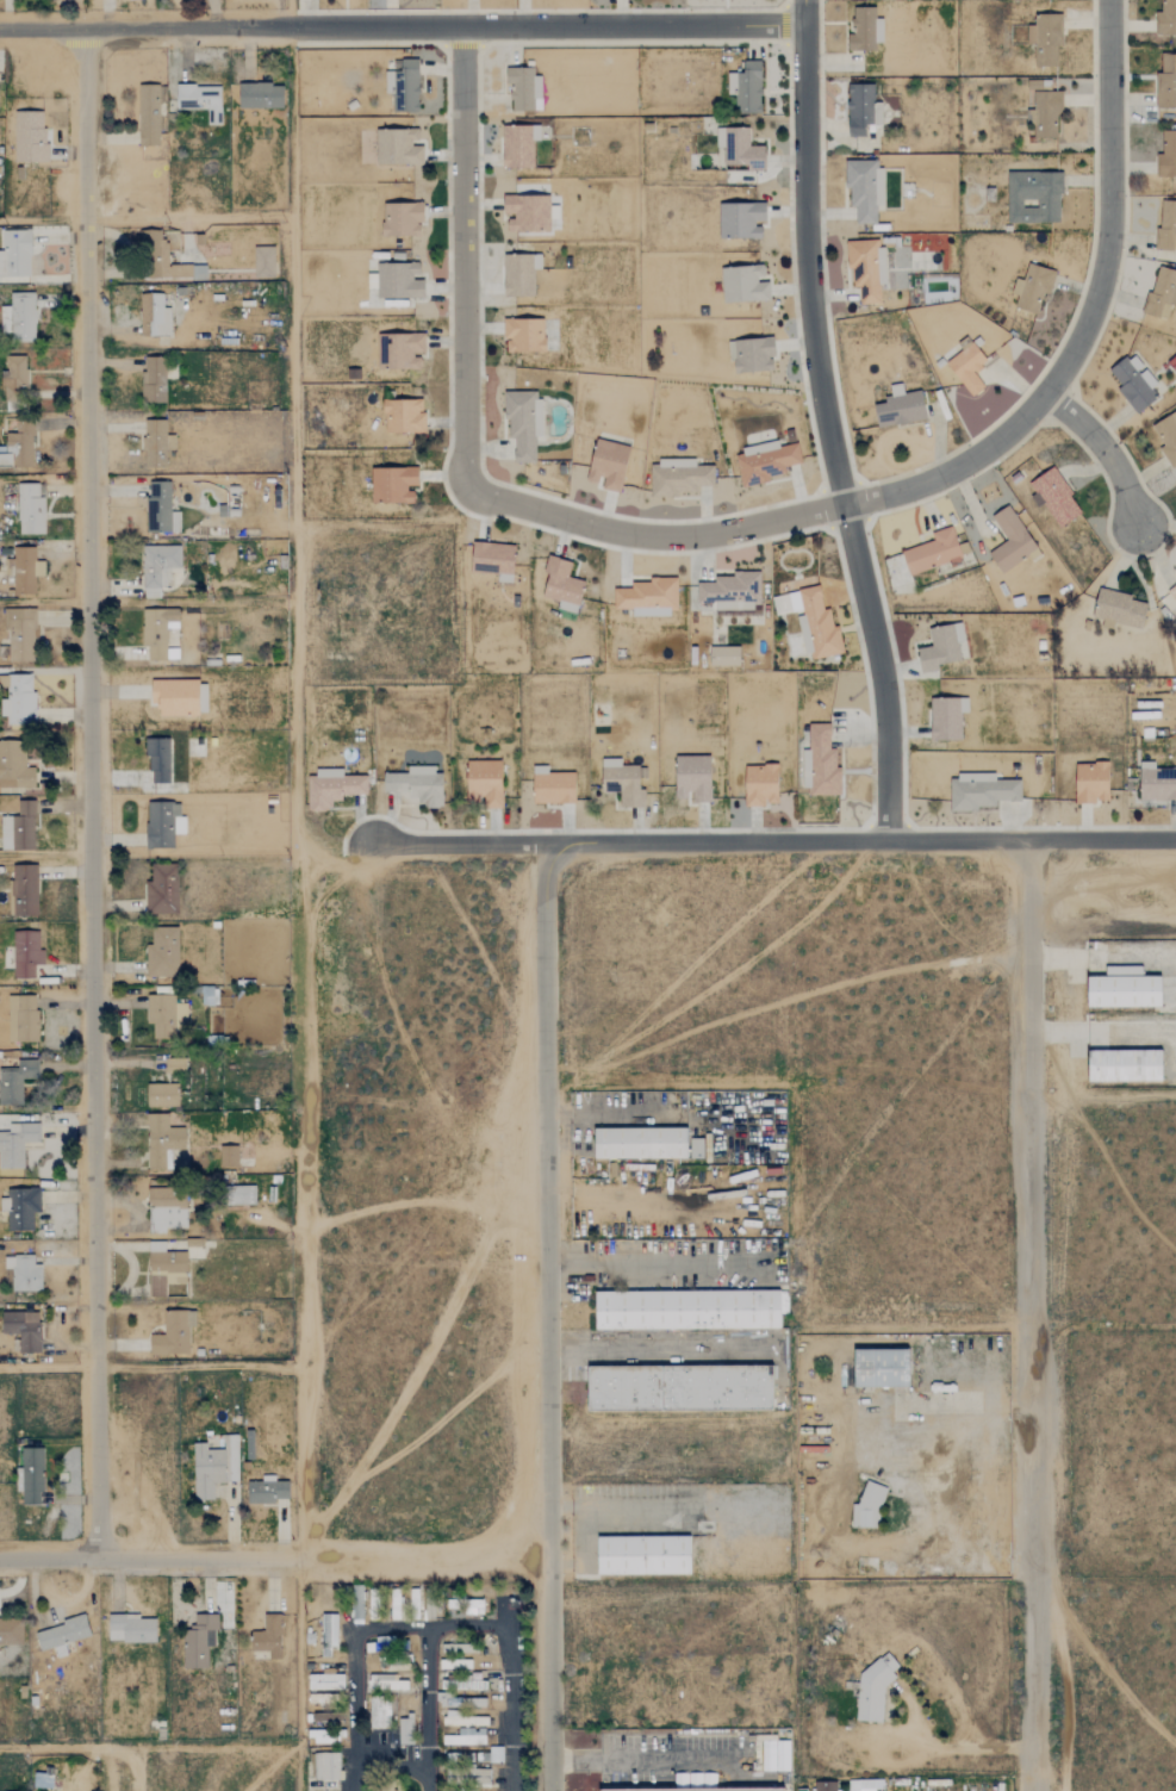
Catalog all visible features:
road: (803, 12)
building: (1166, 18)
road: (400, 27)
building: (865, 30)
building: (1045, 39)
building: (1166, 82)
building: (406, 85)
building: (746, 88)
building: (523, 89)
building: (260, 95)
building: (200, 100)
building: (861, 110)
building: (1044, 114)
building: (148, 116)
building: (29, 137)
building: (518, 145)
building: (399, 148)
building: (740, 150)
building: (1168, 154)
building: (864, 188)
building: (1033, 197)
road: (1108, 204)
building: (402, 219)
building: (741, 220)
building: (1166, 226)
road: (462, 240)
building: (15, 254)
building: (164, 260)
building: (263, 262)
building: (866, 268)
building: (519, 274)
building: (398, 281)
building: (743, 285)
building: (1033, 287)
building: (1162, 293)
building: (154, 316)
building: (19, 317)
building: (523, 336)
building: (404, 352)
building: (751, 355)
building: (967, 368)
building: (153, 380)
building: (14, 381)
building: (1134, 384)
building: (900, 408)
building: (403, 416)
building: (523, 423)
road: (828, 433)
building: (1166, 436)
building: (156, 443)
building: (18, 446)
road: (1102, 452)
building: (608, 465)
building: (766, 465)
building: (679, 477)
building: (393, 485)
building: (1056, 498)
building: (30, 509)
building: (160, 509)
road: (753, 527)
building: (1012, 541)
building: (932, 553)
building: (493, 560)
building: (157, 567)
building: (25, 571)
building: (561, 586)
building: (730, 592)
building: (1172, 593)
building: (647, 597)
building: (1118, 610)
building: (811, 621)
building: (158, 633)
building: (803, 634)
building: (19, 635)
building: (940, 648)
building: (723, 657)
building: (179, 697)
building: (19, 701)
building: (946, 719)
building: (161, 761)
building: (822, 764)
building: (14, 765)
building: (692, 779)
building: (484, 783)
building: (622, 783)
building: (1091, 783)
building: (1156, 783)
building: (760, 785)
building: (416, 786)
building: (552, 786)
building: (331, 789)
building: (981, 792)
road: (88, 794)
building: (162, 825)
building: (18, 828)
road: (1031, 839)
road: (629, 840)
building: (24, 890)
building: (162, 890)
building: (162, 952)
building: (25, 953)
building: (1124, 990)
building: (164, 1016)
building: (23, 1019)
building: (1125, 1066)
building: (14, 1082)
building: (162, 1096)
road: (599, 1113)
building: (162, 1142)
building: (646, 1142)
building: (17, 1144)
road: (577, 1146)
building: (228, 1157)
building: (238, 1196)
building: (20, 1208)
building: (166, 1211)
road: (652, 1264)
building: (164, 1269)
building: (23, 1273)
building: (687, 1308)
road: (1031, 1314)
road: (546, 1317)
building: (23, 1330)
building: (173, 1333)
road: (48, 1368)
building: (882, 1368)
building: (680, 1386)
road: (963, 1403)
building: (213, 1467)
building: (31, 1476)
building: (266, 1491)
building: (867, 1506)
building: (645, 1554)
road: (427, 1555)
road: (151, 1557)
building: (131, 1628)
road: (390, 1629)
building: (11, 1631)
building: (328, 1633)
building: (61, 1635)
building: (268, 1637)
building: (198, 1641)
building: (373, 1647)
building: (459, 1649)
building: (386, 1661)
building: (455, 1663)
road: (510, 1667)
building: (453, 1678)
building: (325, 1680)
building: (385, 1683)
building: (471, 1685)
building: (872, 1690)
building: (379, 1714)
building: (329, 1716)
building: (465, 1718)
building: (405, 1730)
building: (466, 1737)
road: (962, 1747)
building: (494, 1754)
building: (602, 1755)
road: (642, 1761)
building: (326, 1772)
building: (465, 1774)
building: (865, 1785)
building: (825, 1786)
building: (696, 1789)
building: (801, 1790)

